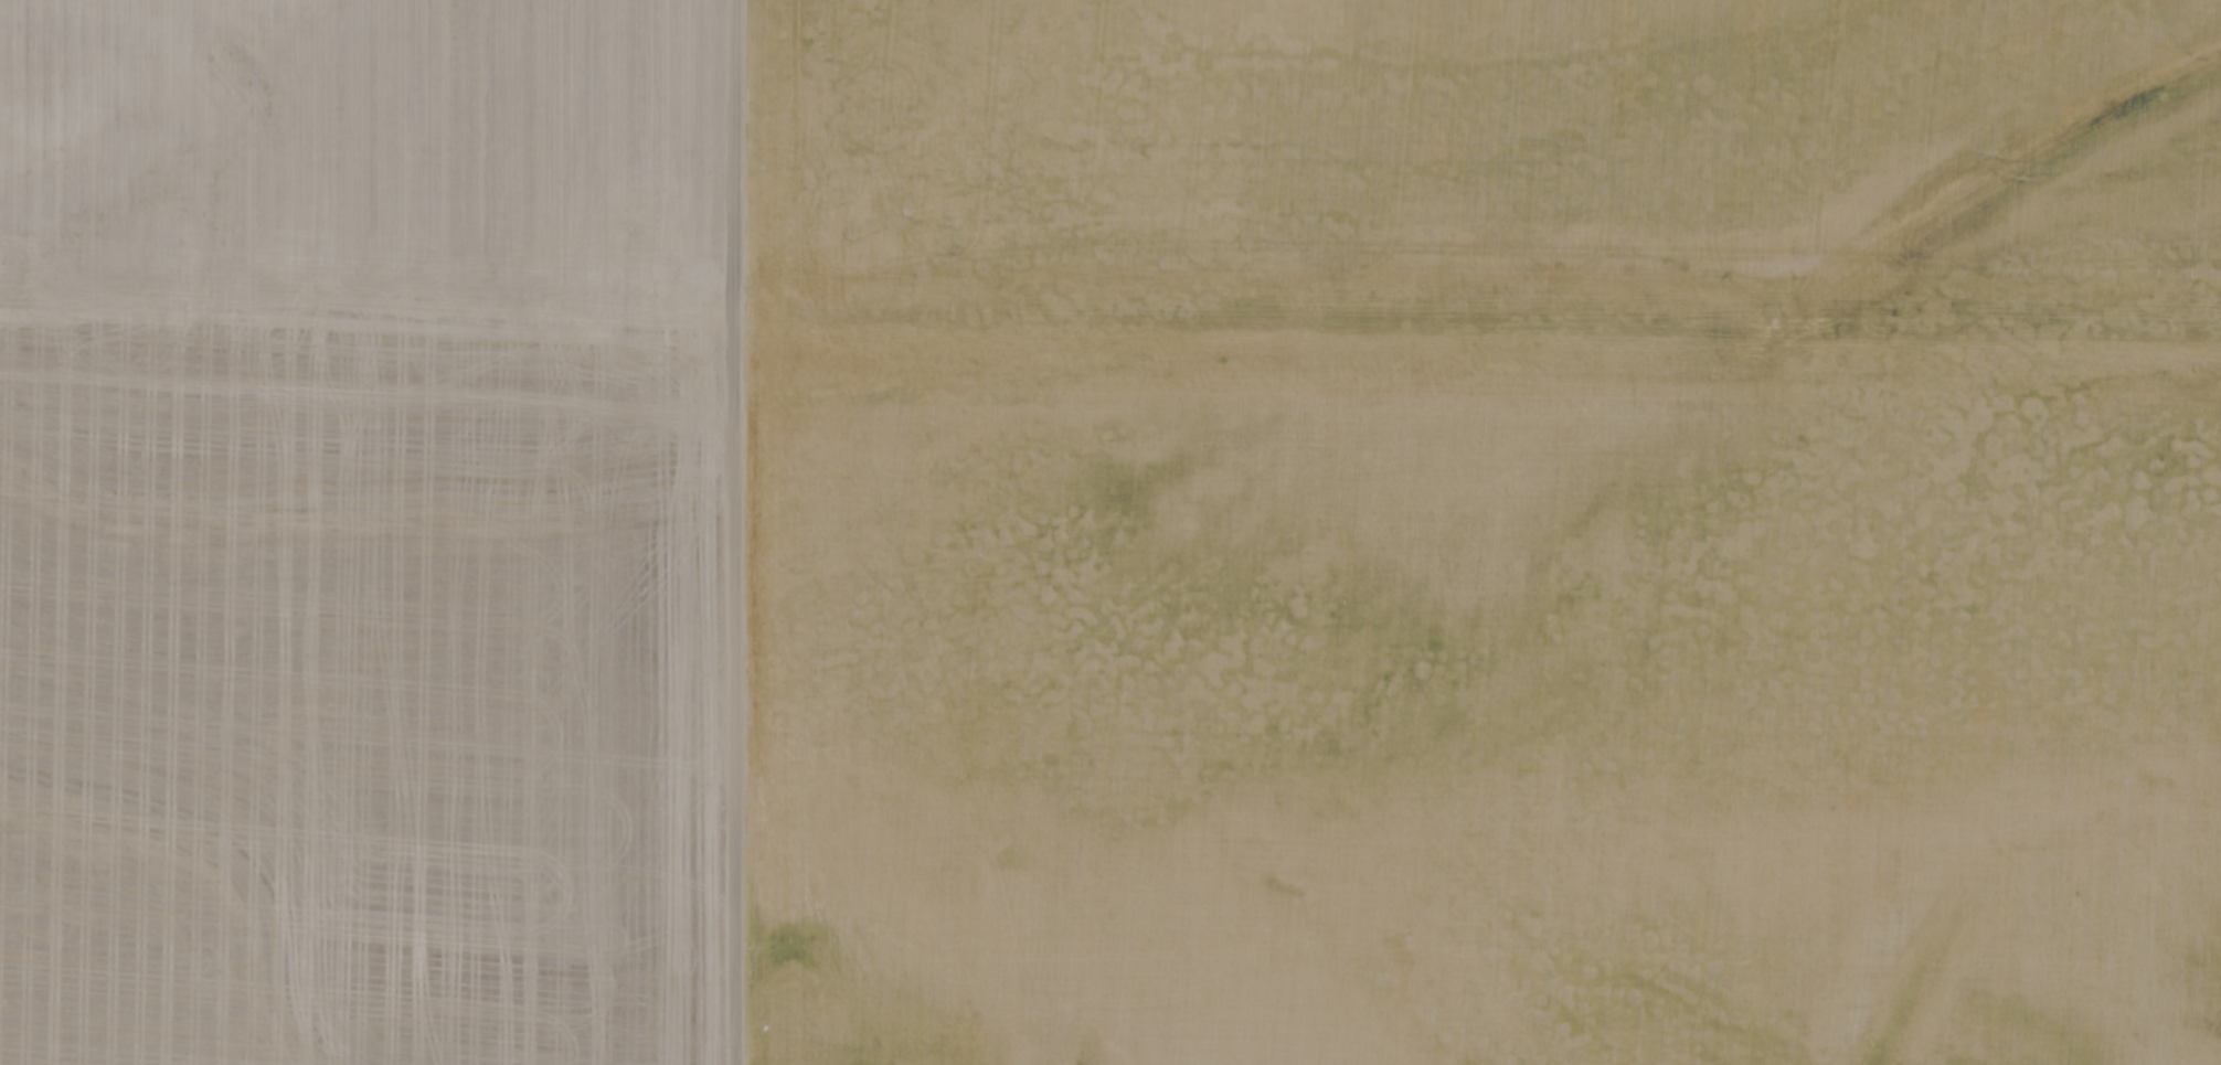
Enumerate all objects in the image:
road: (731, 532)

